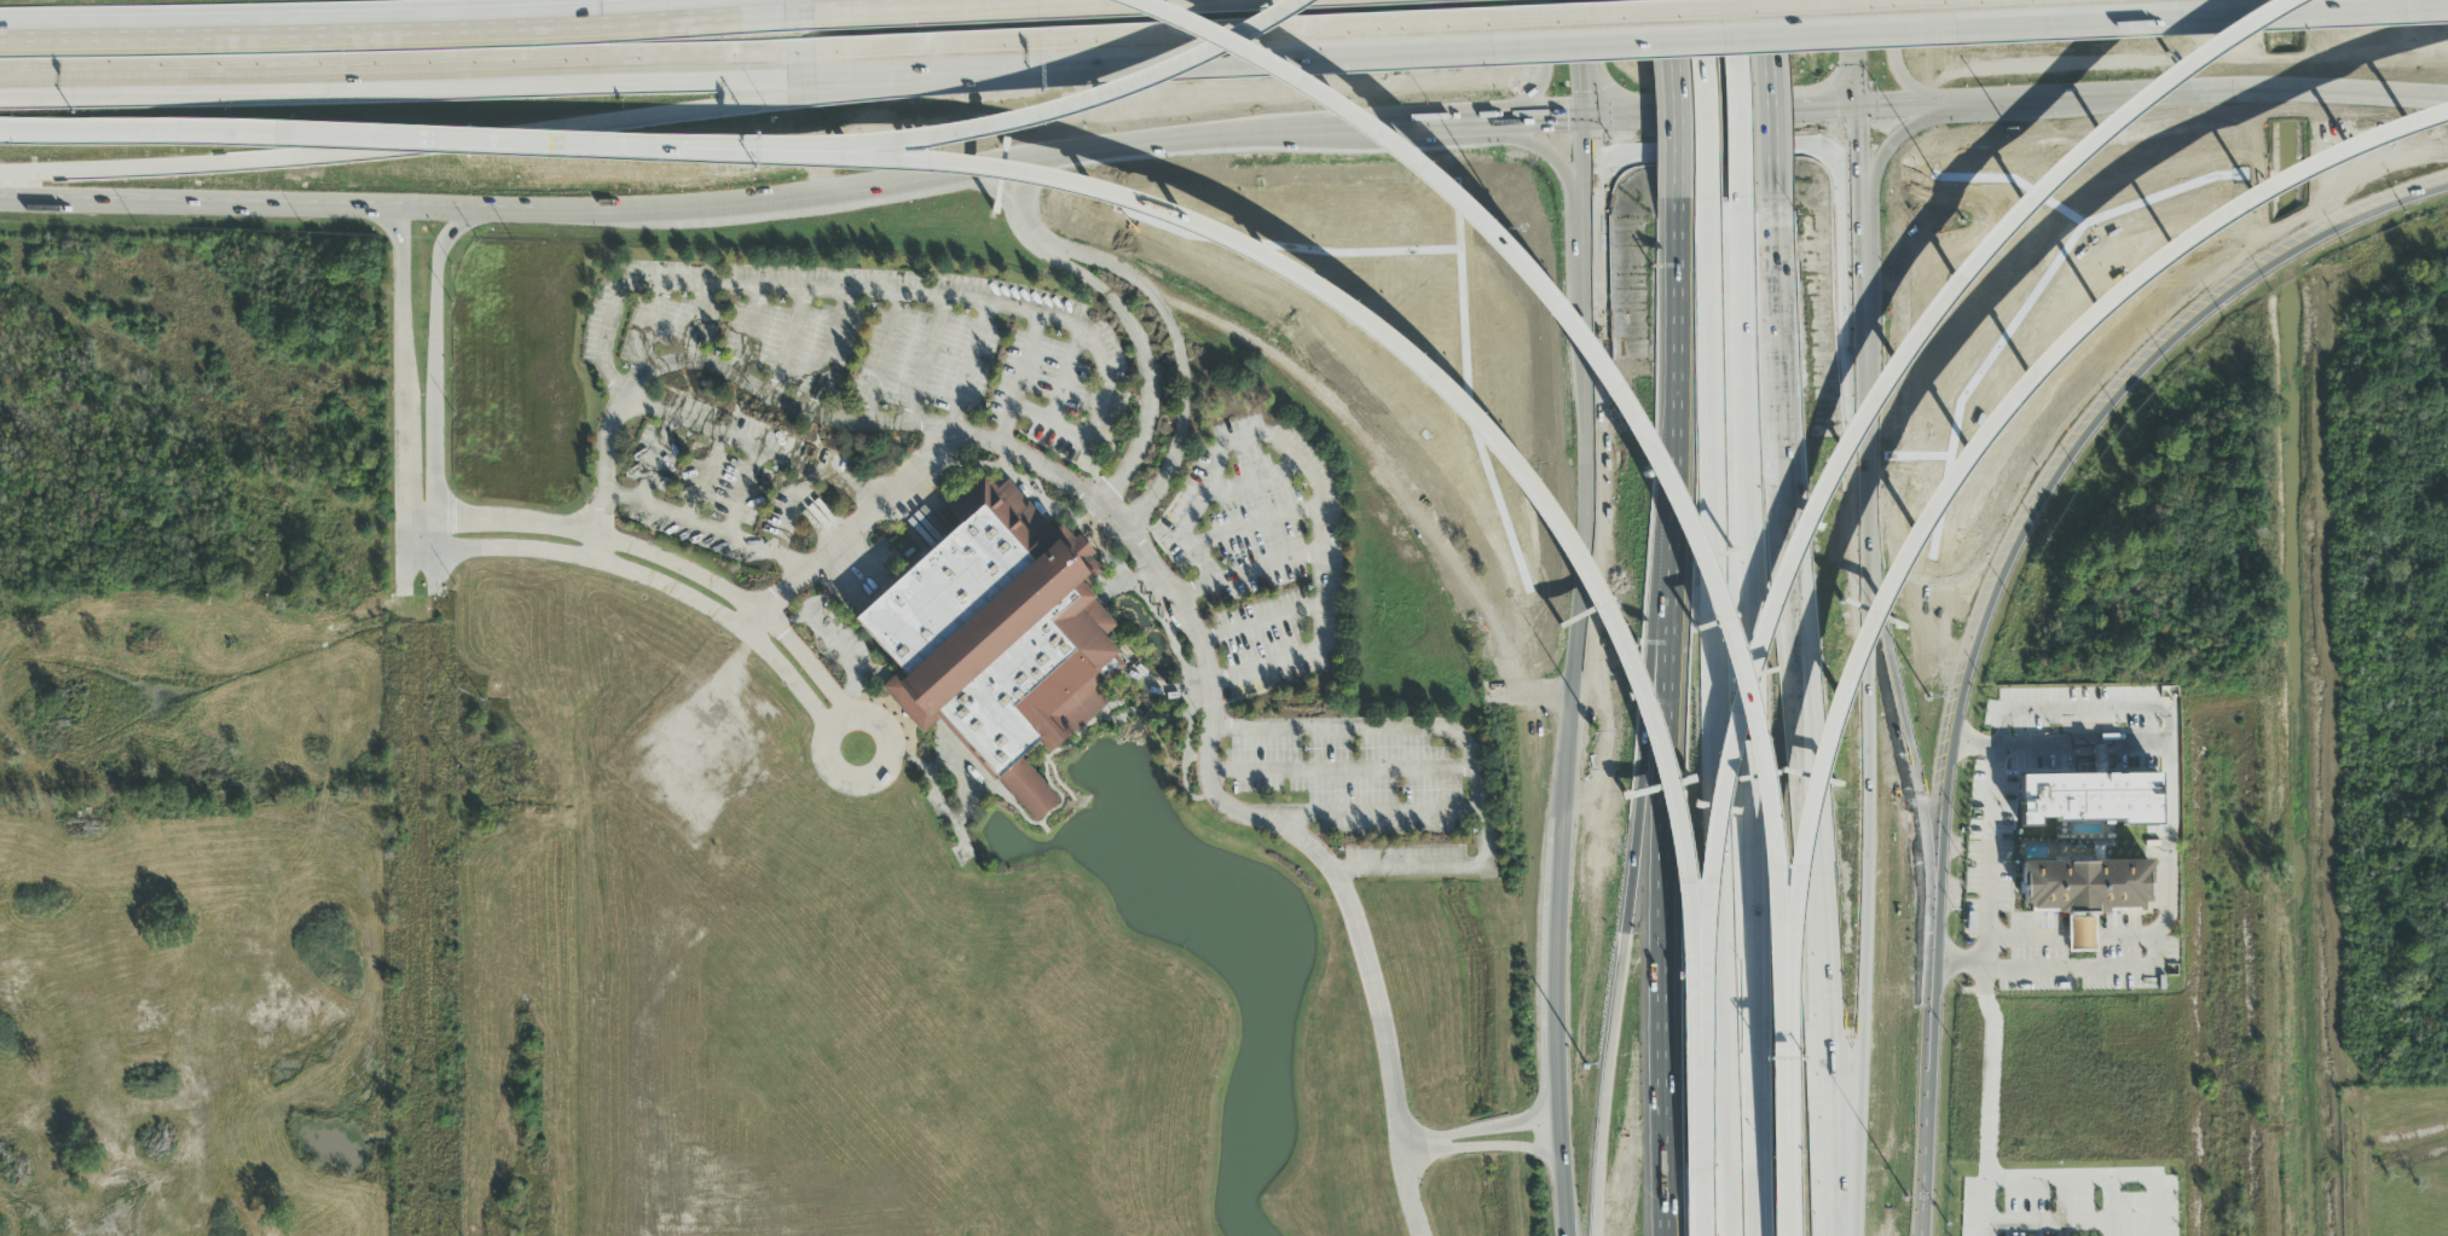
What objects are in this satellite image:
road: (909, 5)
road: (1539, 17)
road: (404, 30)
road: (1858, 40)
road: (982, 48)
road: (1587, 59)
road: (398, 66)
road: (1897, 68)
road: (1545, 72)
road: (978, 75)
road: (1859, 95)
road: (1709, 99)
road: (1740, 100)
road: (2018, 104)
road: (1771, 106)
road: (1063, 108)
road: (1674, 109)
traffic signals: (1859, 111)
traffic signals: (1588, 120)
road: (1543, 121)
road: (1448, 124)
road: (397, 138)
road: (1893, 145)
road: (1723, 146)
road: (394, 147)
road: (1547, 155)
road: (1859, 156)
road: (1588, 161)
road: (827, 196)
road: (125, 205)
road: (1860, 234)
road: (1588, 256)
road: (847, 294)
road: (1862, 303)
road: (1164, 309)
road: (1124, 312)
road: (1678, 318)
road: (885, 359)
road: (1026, 364)
road: (966, 366)
road: (1420, 371)
road: (435, 373)
road: (401, 381)
parking lot: (826, 391)
road: (771, 398)
road: (1864, 406)
road: (1871, 412)
road: (1659, 434)
road: (2072, 442)
road: (748, 445)
road: (652, 455)
road: (1315, 471)
road: (704, 476)
road: (1957, 484)
road: (742, 492)
road: (792, 511)
road: (421, 518)
road: (705, 526)
road: (1256, 528)
road: (596, 549)
road: (422, 551)
parking lot: (1262, 552)
road: (671, 562)
road: (406, 568)
road: (1267, 570)
road: (435, 571)
road: (1592, 575)
road: (660, 584)
building: (176, 600)
building: (114, 622)
road: (753, 622)
building: (997, 639)
road: (1742, 642)
building: (133, 656)
building: (174, 668)
road: (1209, 679)
road: (1897, 679)
road: (2088, 708)
road: (1715, 716)
road: (1806, 724)
building: (222, 737)
road: (2101, 750)
road: (1470, 754)
road: (828, 765)
parking lot: (1373, 784)
road: (1993, 796)
building: (2089, 800)
road: (1661, 826)
road: (1637, 828)
building: (2084, 886)
road: (1986, 918)
road: (2120, 935)
road: (1960, 961)
road: (1557, 962)
road: (2085, 969)
road: (1931, 1057)
road: (1698, 1073)
road: (1559, 1110)
road: (1987, 1114)
road: (1483, 1130)
road: (1487, 1149)
road: (1786, 1157)
road: (1754, 1160)
park: (2391, 1162)
road: (2095, 1178)
road: (1566, 1184)
road: (1698, 1203)
road: (2110, 1205)
road: (1829, 1214)
road: (2048, 1224)
building: (2078, 1235)

